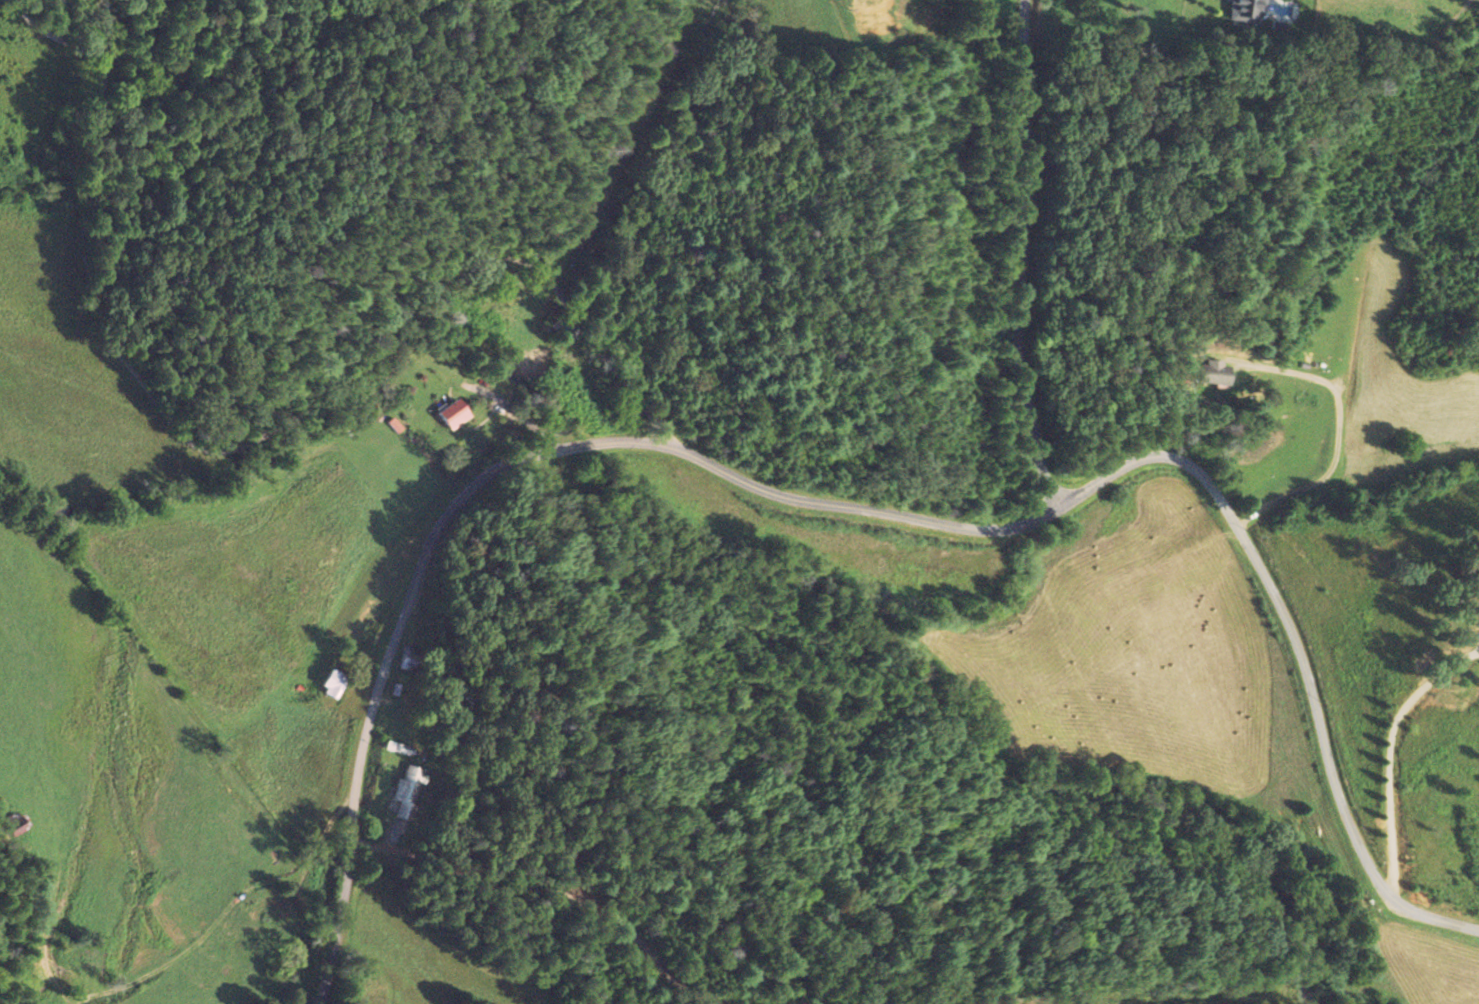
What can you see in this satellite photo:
building: (1247, 11)
road: (1024, 260)
building: (1215, 372)
building: (456, 413)
road: (624, 441)
road: (253, 446)
road: (1148, 459)
road: (933, 522)
building: (407, 657)
building: (335, 683)
road: (1324, 741)
road: (365, 744)
building: (409, 791)

